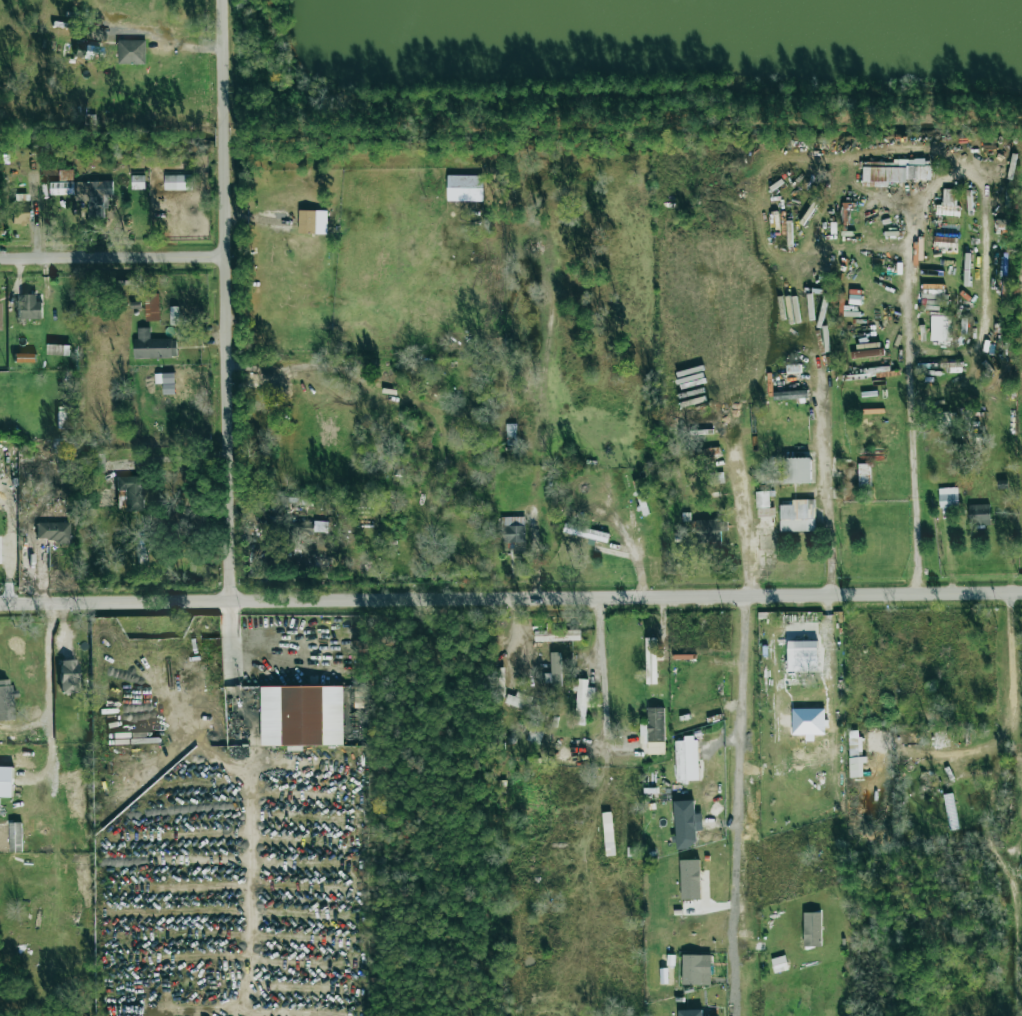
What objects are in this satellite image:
building: (131, 52)
building: (894, 172)
building: (138, 182)
building: (178, 182)
building: (948, 202)
building: (20, 208)
building: (312, 222)
road: (114, 256)
road: (228, 299)
building: (29, 306)
building: (152, 307)
building: (174, 315)
building: (941, 329)
building: (153, 346)
building: (58, 350)
building: (24, 358)
building: (954, 367)
building: (164, 378)
building: (790, 395)
road: (910, 395)
road: (821, 417)
building: (797, 471)
building: (132, 491)
building: (948, 497)
building: (764, 511)
building: (978, 514)
building: (798, 516)
building: (512, 529)
building: (709, 530)
building: (53, 531)
building: (299, 536)
building: (142, 547)
road: (511, 596)
building: (557, 635)
road: (288, 647)
road: (1010, 653)
building: (802, 656)
building: (651, 667)
building: (554, 670)
road: (602, 671)
road: (747, 671)
building: (69, 676)
road: (47, 698)
building: (583, 700)
building: (7, 701)
building: (525, 704)
building: (302, 715)
building: (653, 731)
building: (533, 733)
road: (965, 752)
building: (686, 760)
building: (6, 781)
road: (252, 805)
building: (686, 824)
building: (608, 832)
building: (690, 879)
building: (779, 964)
building: (696, 969)
building: (690, 1012)

